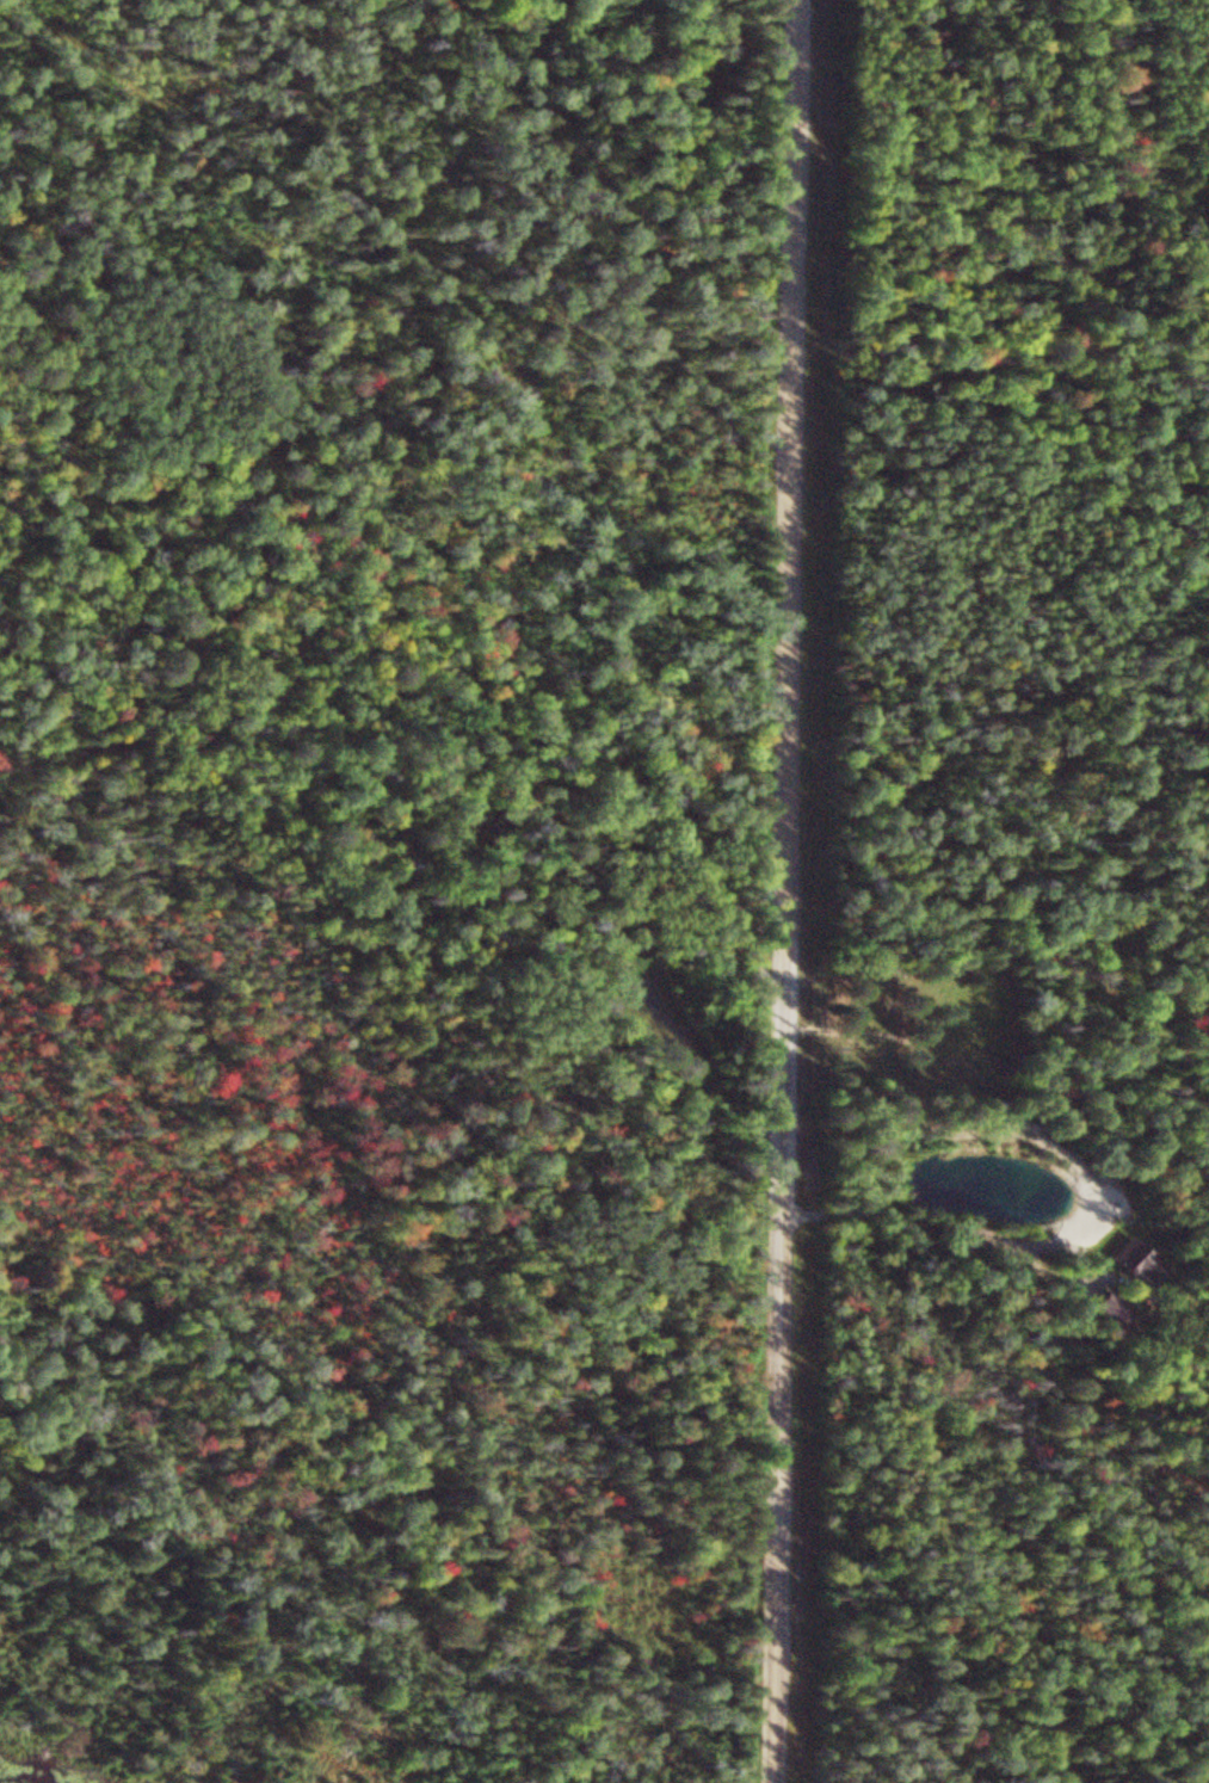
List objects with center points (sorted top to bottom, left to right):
road: (797, 891)
park: (919, 1024)
building: (1147, 1267)

